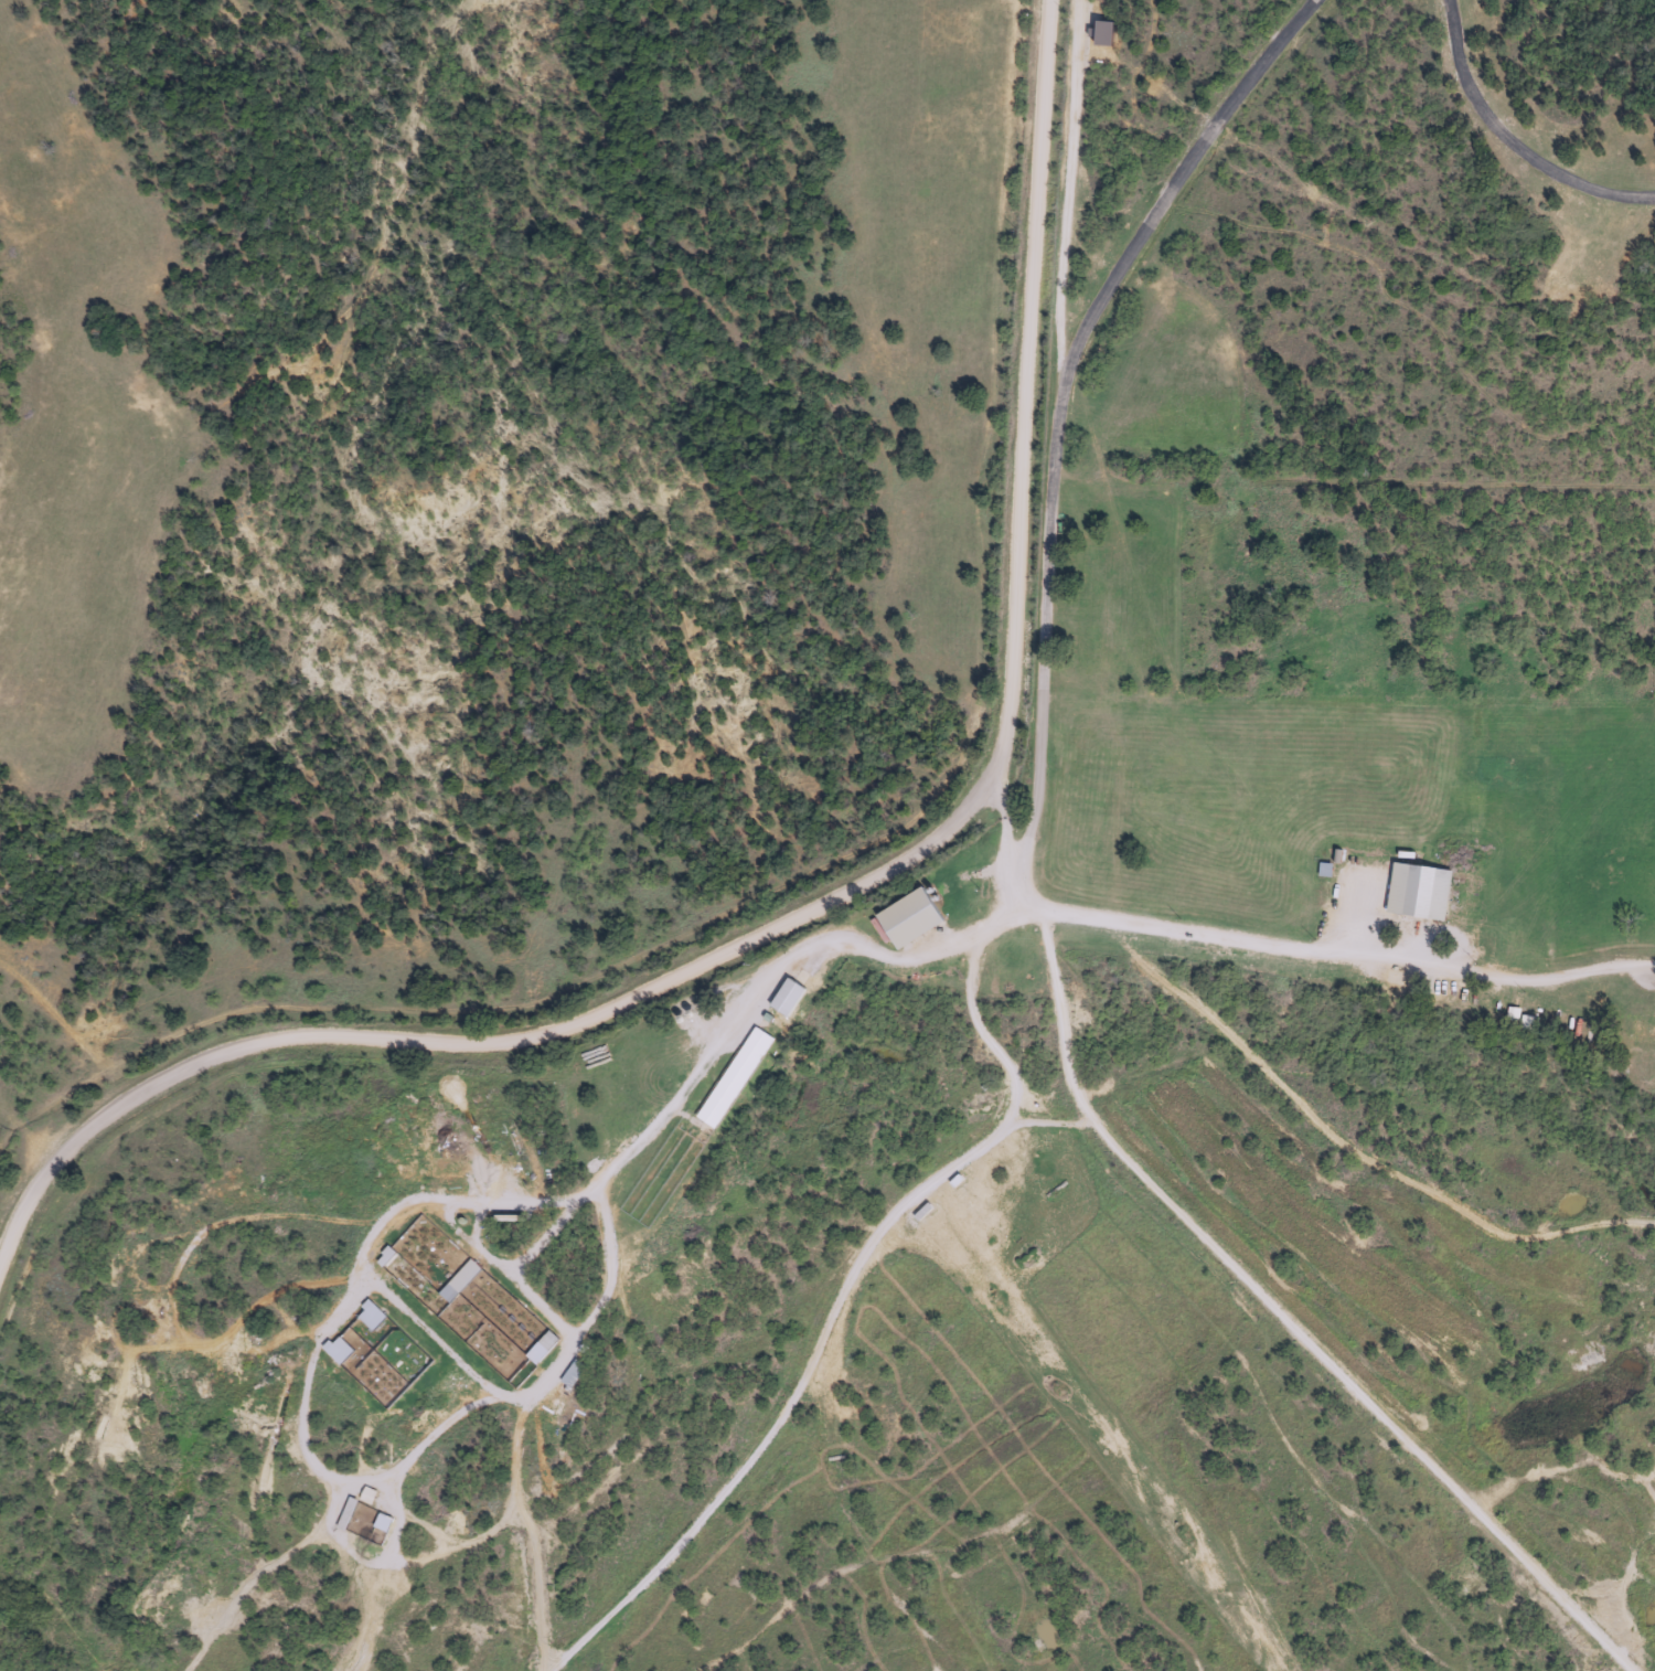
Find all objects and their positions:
road: (1516, 136)
road: (1069, 401)
building: (1528, 767)
building: (1389, 777)
building: (1118, 796)
building: (1253, 813)
building: (1640, 833)
building: (1418, 890)
road: (843, 903)
building: (910, 917)
road: (1007, 920)
building: (1526, 1021)
building: (1642, 1032)
building: (734, 1076)
road: (1011, 1121)
road: (28, 1130)
road: (19, 1137)
road: (1031, 1166)
road: (1234, 1273)
building: (495, 1309)
building: (357, 1519)

